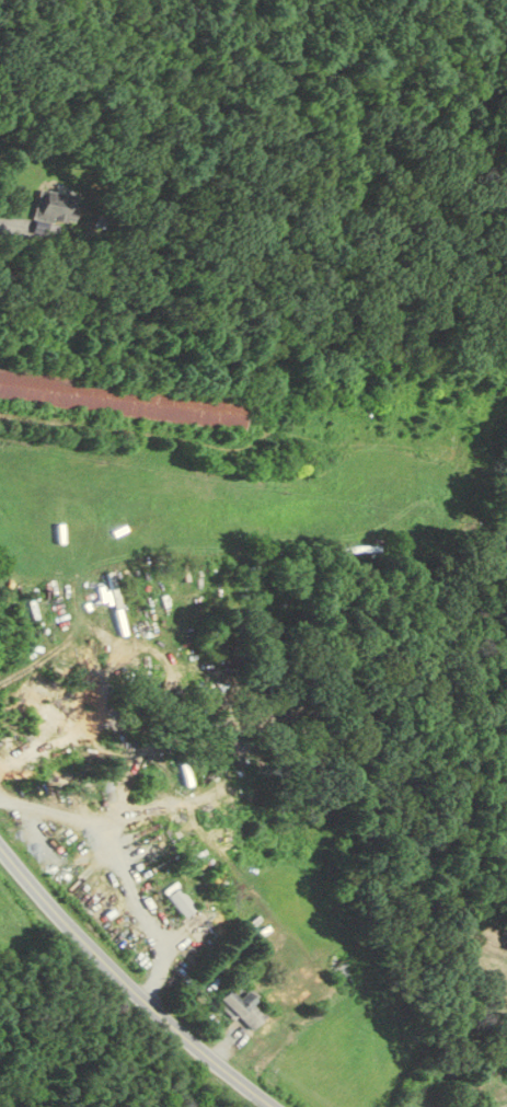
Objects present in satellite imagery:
building: (56, 207)
road: (13, 221)
building: (124, 400)
road: (48, 648)
building: (178, 899)
building: (348, 977)
road: (127, 983)
building: (238, 1006)
building: (475, 1080)

